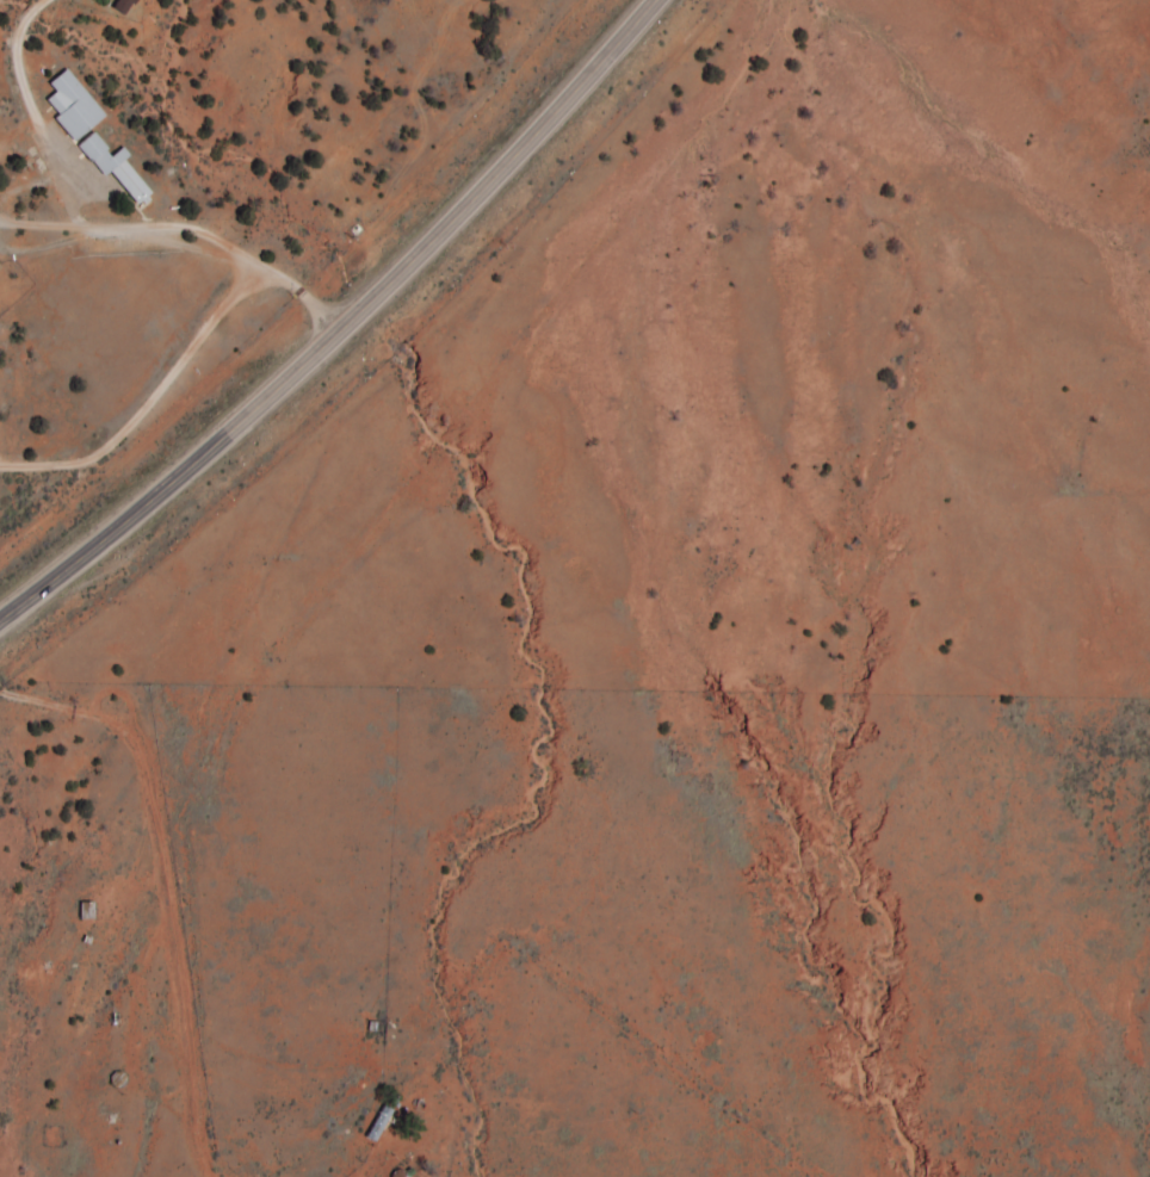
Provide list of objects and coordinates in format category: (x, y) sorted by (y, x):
building: (119, 6)
building: (70, 106)
building: (113, 168)
road: (316, 290)
road: (264, 305)
road: (344, 328)
building: (85, 911)
building: (376, 1125)

